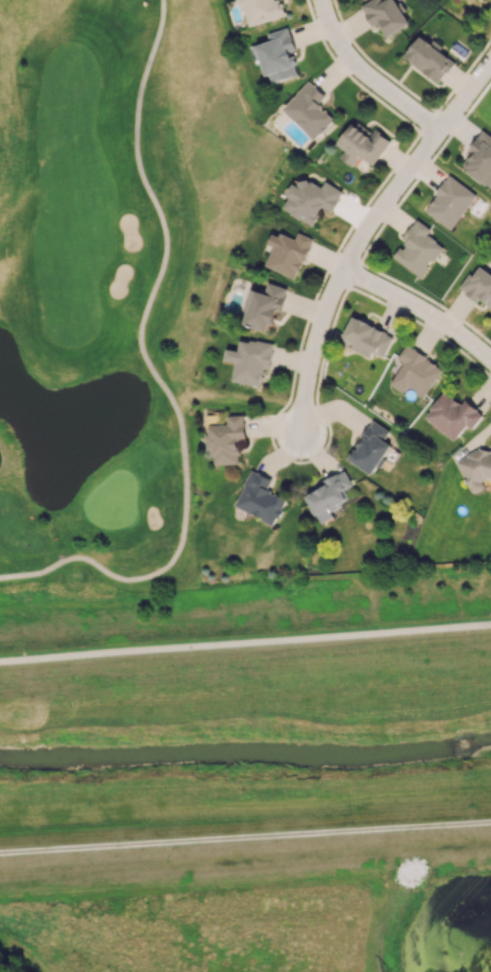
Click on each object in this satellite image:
building: (453, 0)
building: (262, 10)
building: (385, 15)
building: (278, 57)
building: (429, 58)
road: (366, 76)
building: (309, 110)
building: (362, 144)
building: (480, 158)
building: (311, 199)
building: (450, 202)
road: (364, 233)
building: (417, 248)
building: (287, 253)
park: (110, 284)
building: (478, 286)
building: (263, 307)
road: (421, 309)
building: (250, 360)
road: (154, 370)
building: (415, 372)
building: (453, 415)
building: (226, 439)
building: (371, 448)
building: (476, 468)
building: (328, 495)
building: (260, 498)
road: (245, 643)
river: (245, 749)
road: (245, 838)

